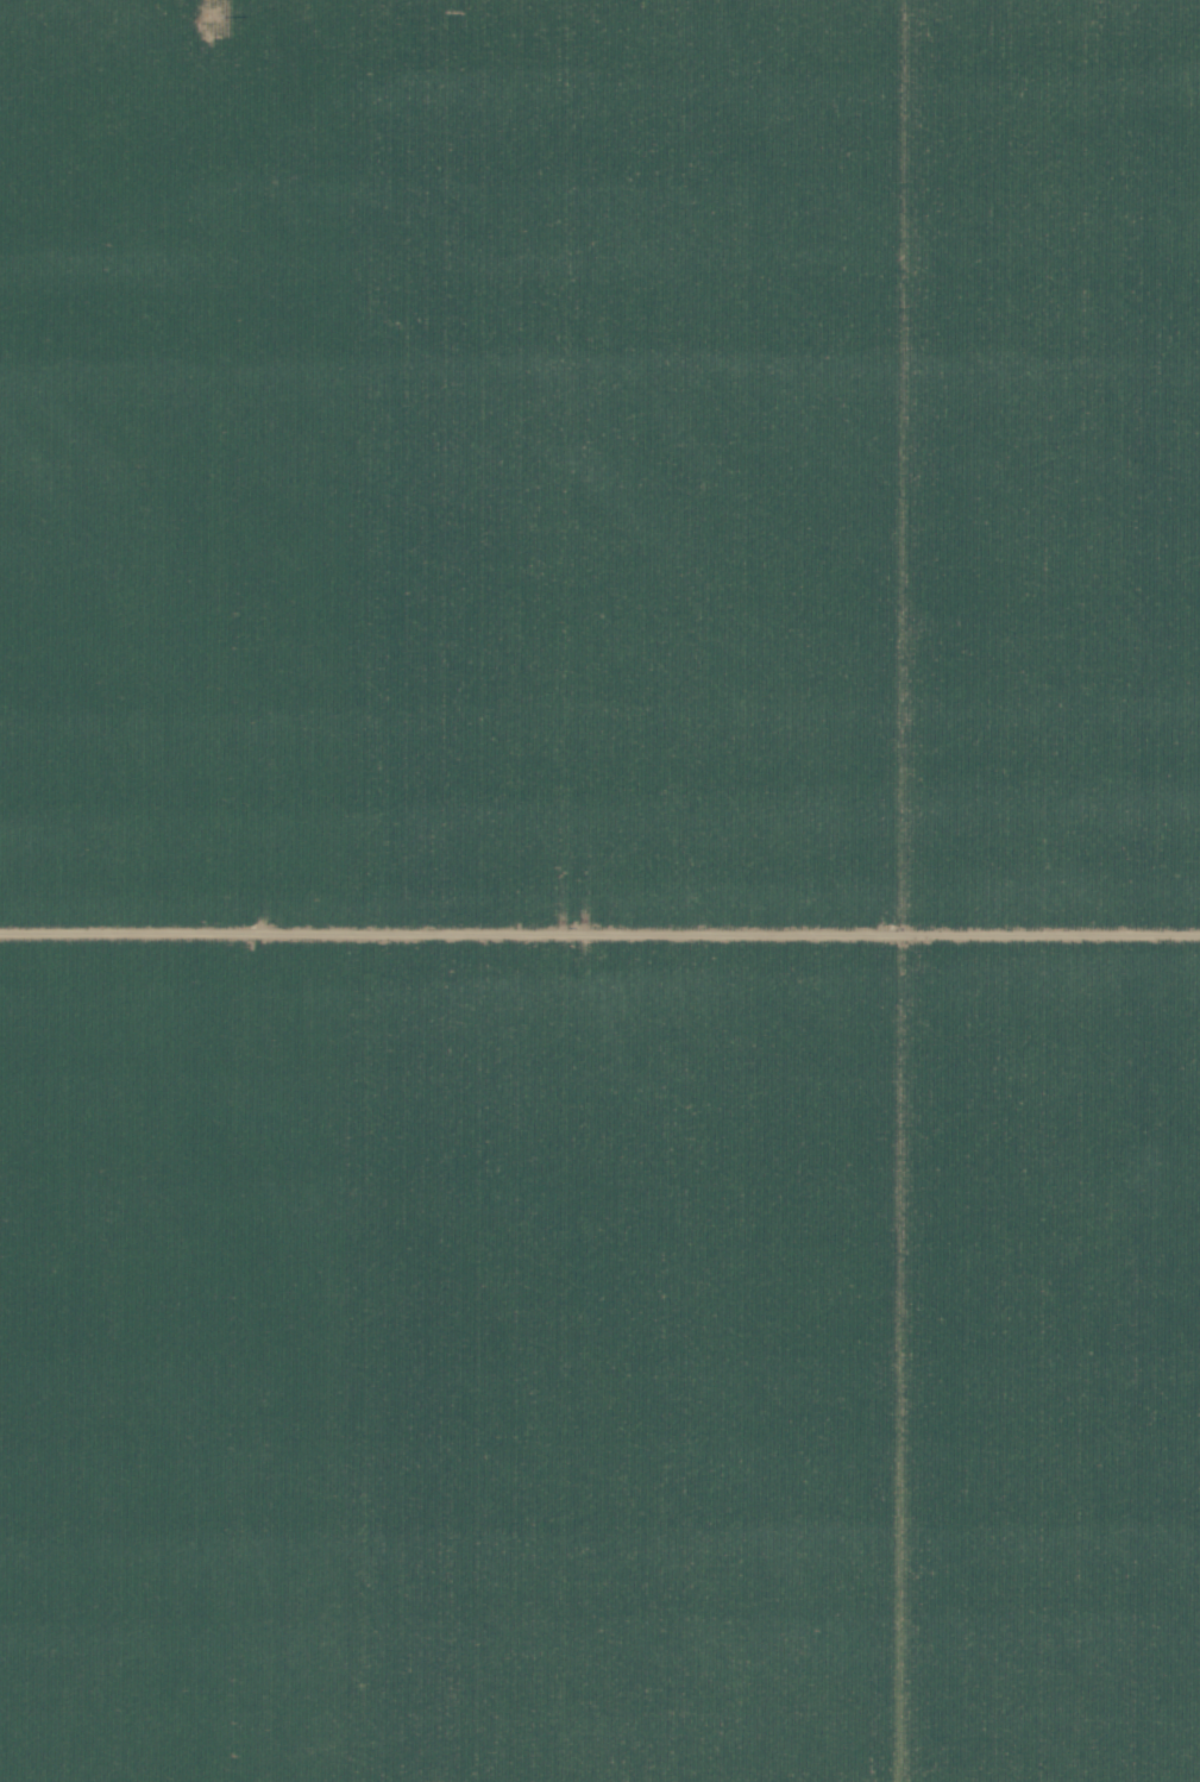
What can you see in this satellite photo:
crop: (599, 891)

